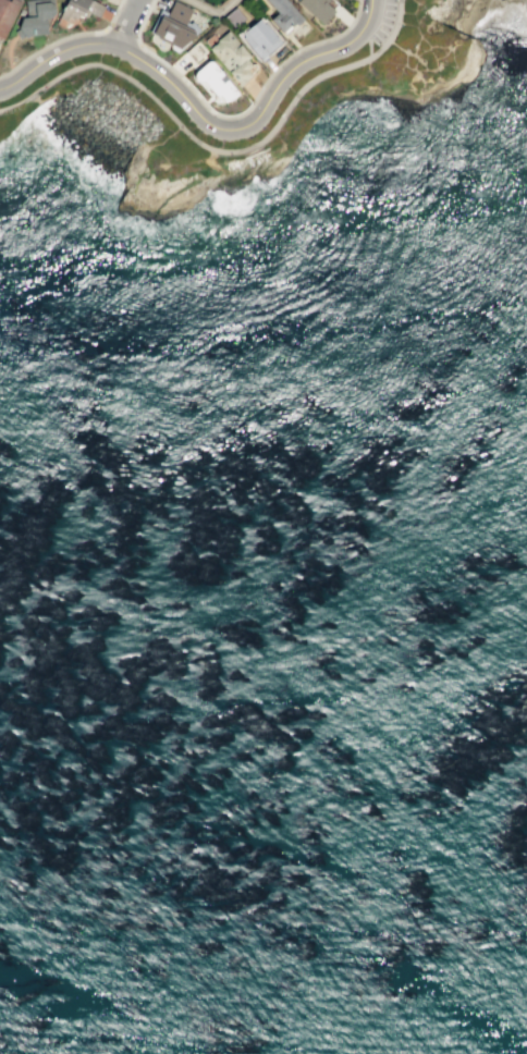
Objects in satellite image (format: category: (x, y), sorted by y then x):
building: (323, 9)
building: (83, 10)
road: (211, 10)
building: (291, 14)
building: (9, 17)
building: (38, 20)
parking lot: (382, 21)
road: (128, 23)
building: (181, 27)
road: (65, 39)
building: (263, 41)
building: (199, 52)
building: (237, 59)
building: (220, 82)
road: (199, 115)
road: (238, 115)
road: (215, 147)

